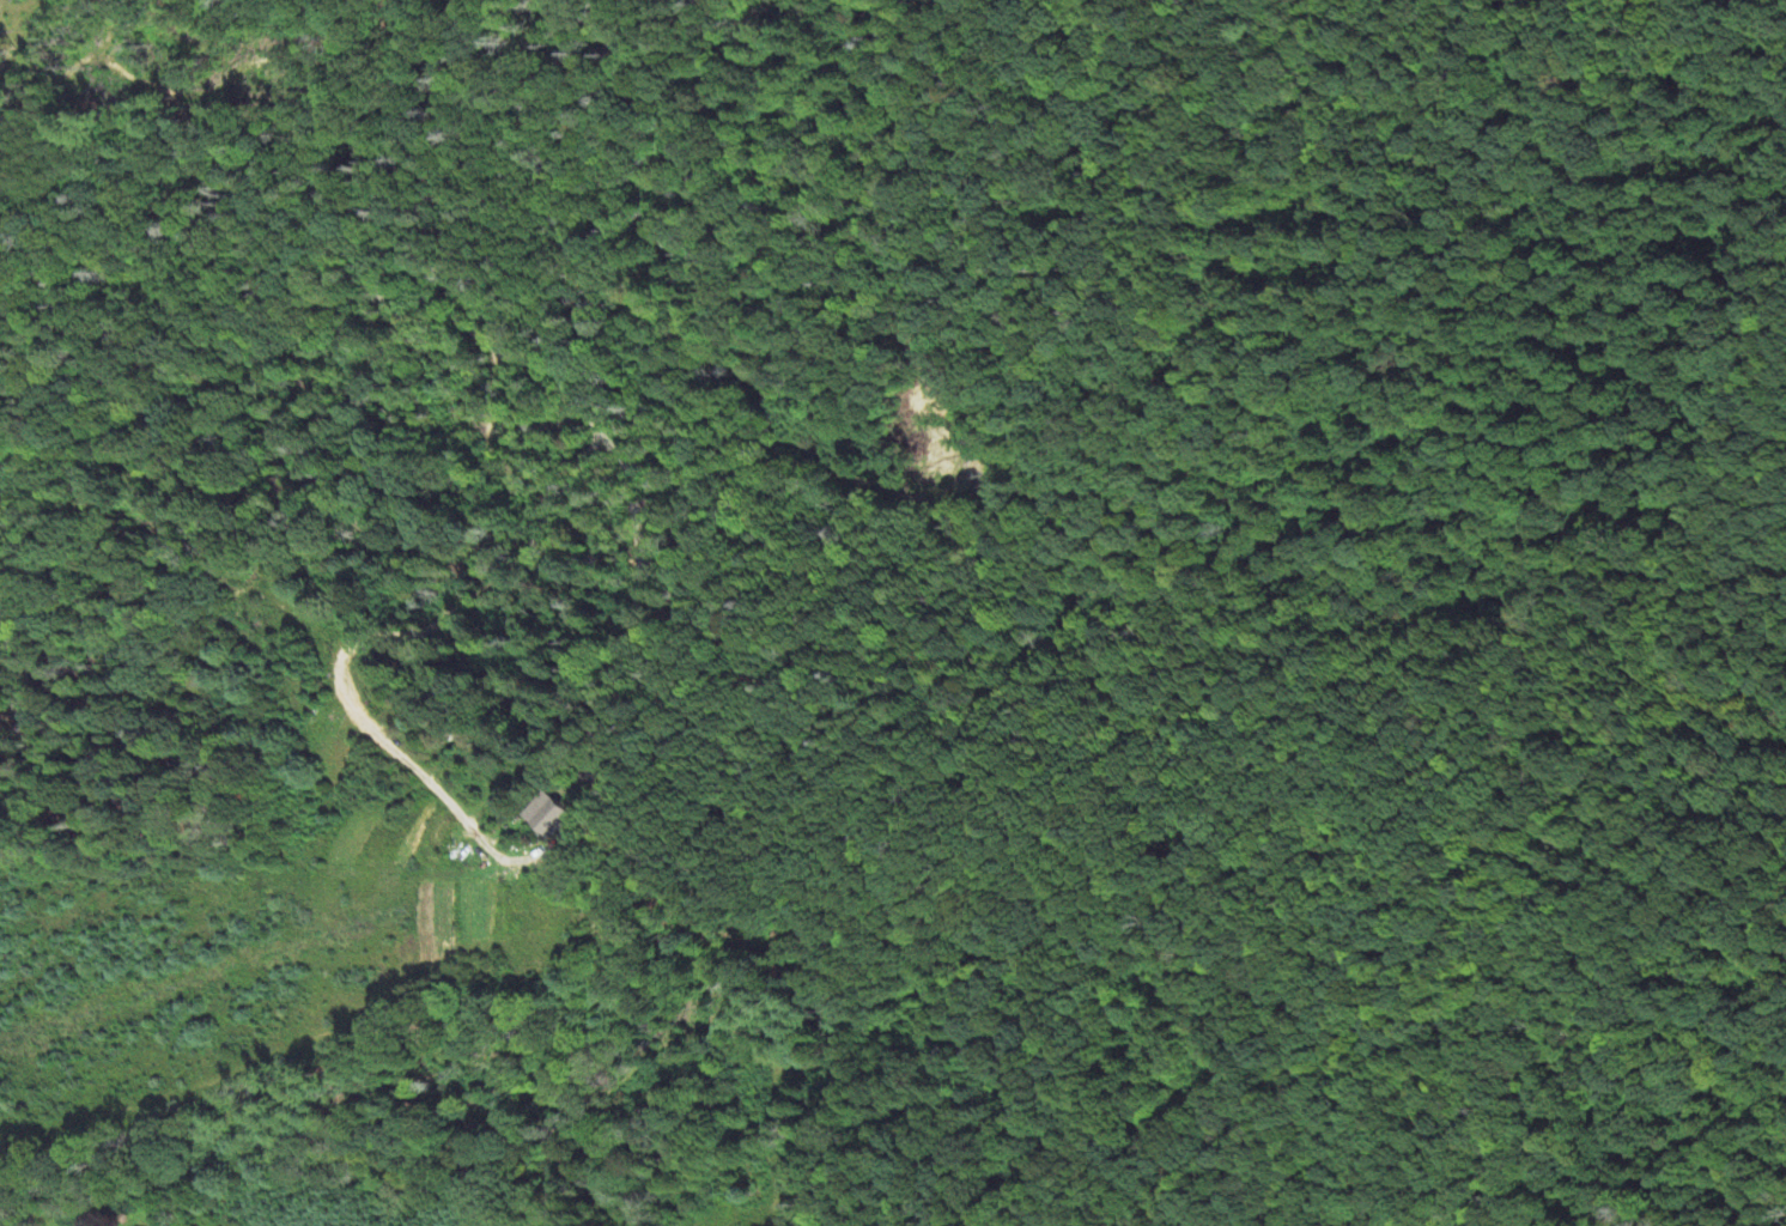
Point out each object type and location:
building: (548, 815)

